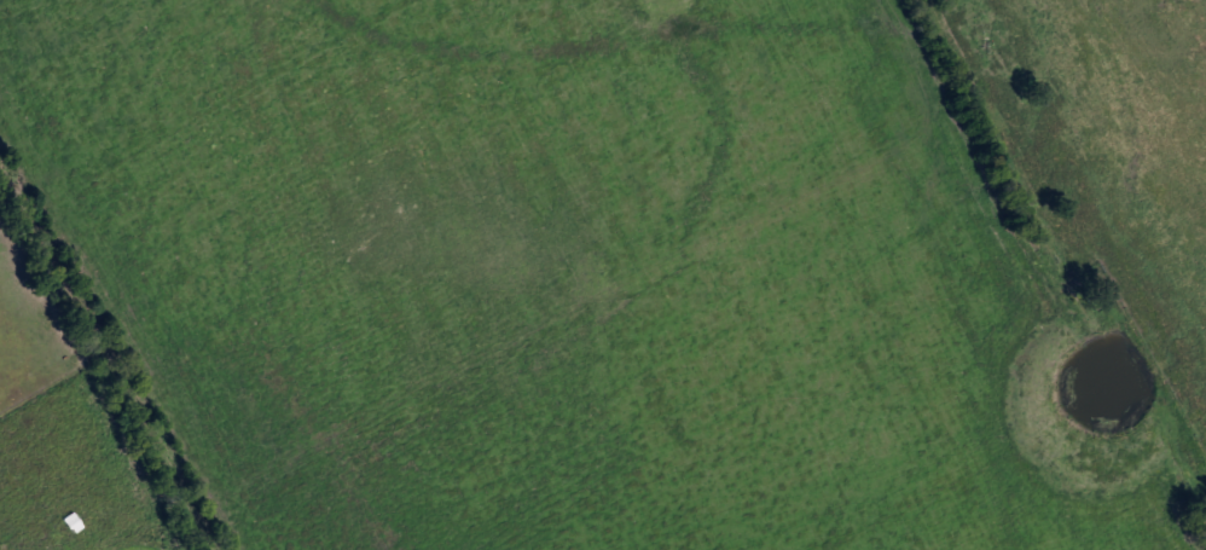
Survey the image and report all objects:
building: (68, 521)

